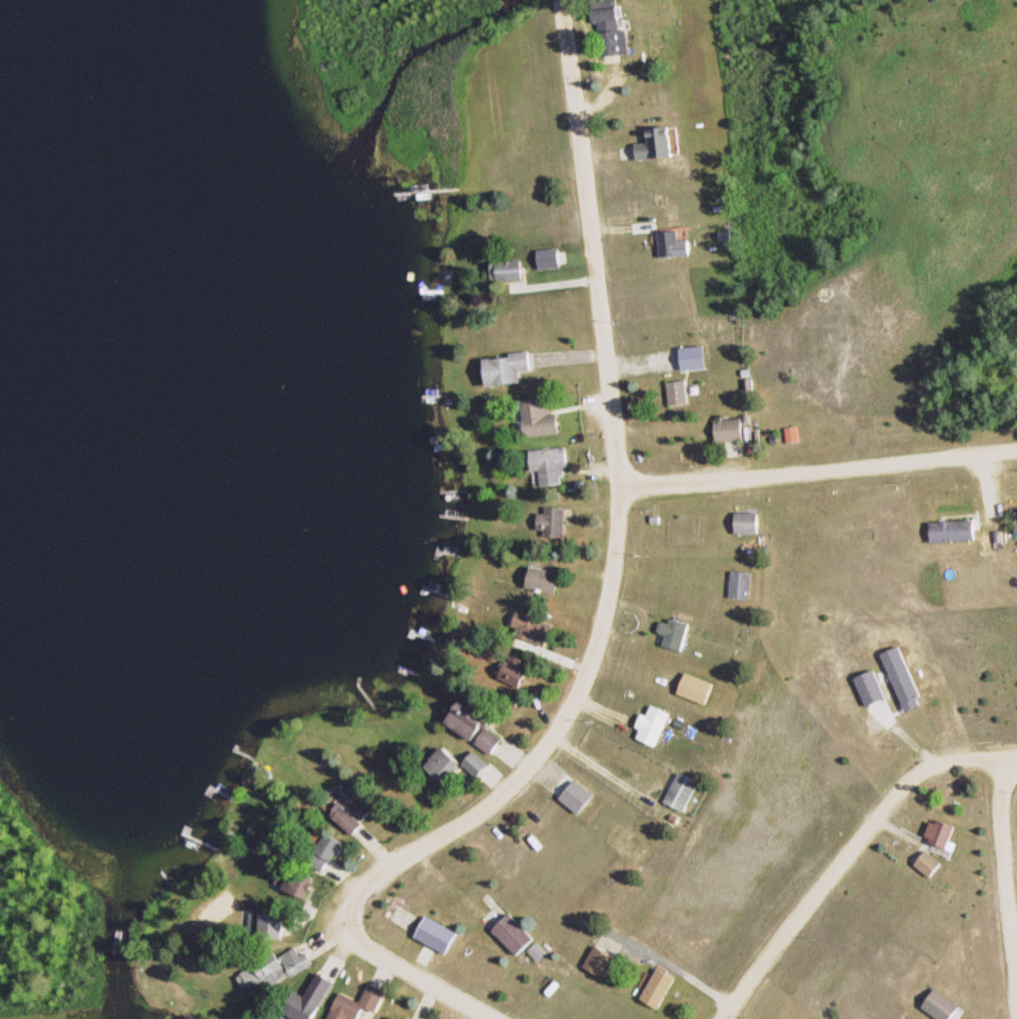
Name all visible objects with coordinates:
building: (616, 17)
building: (659, 143)
building: (686, 241)
building: (511, 268)
building: (509, 367)
building: (681, 390)
building: (539, 416)
building: (734, 428)
building: (552, 464)
road: (819, 468)
building: (557, 520)
building: (752, 522)
building: (957, 529)
building: (547, 579)
building: (745, 583)
road: (607, 599)
building: (677, 631)
building: (907, 681)
building: (657, 723)
building: (477, 724)
building: (447, 761)
building: (479, 763)
building: (685, 790)
building: (358, 814)
building: (944, 835)
road: (850, 853)
road: (1009, 860)
building: (303, 879)
building: (405, 916)
building: (523, 937)
river: (122, 948)
building: (303, 957)
building: (603, 959)
building: (662, 985)
building: (360, 1004)
building: (395, 1016)

